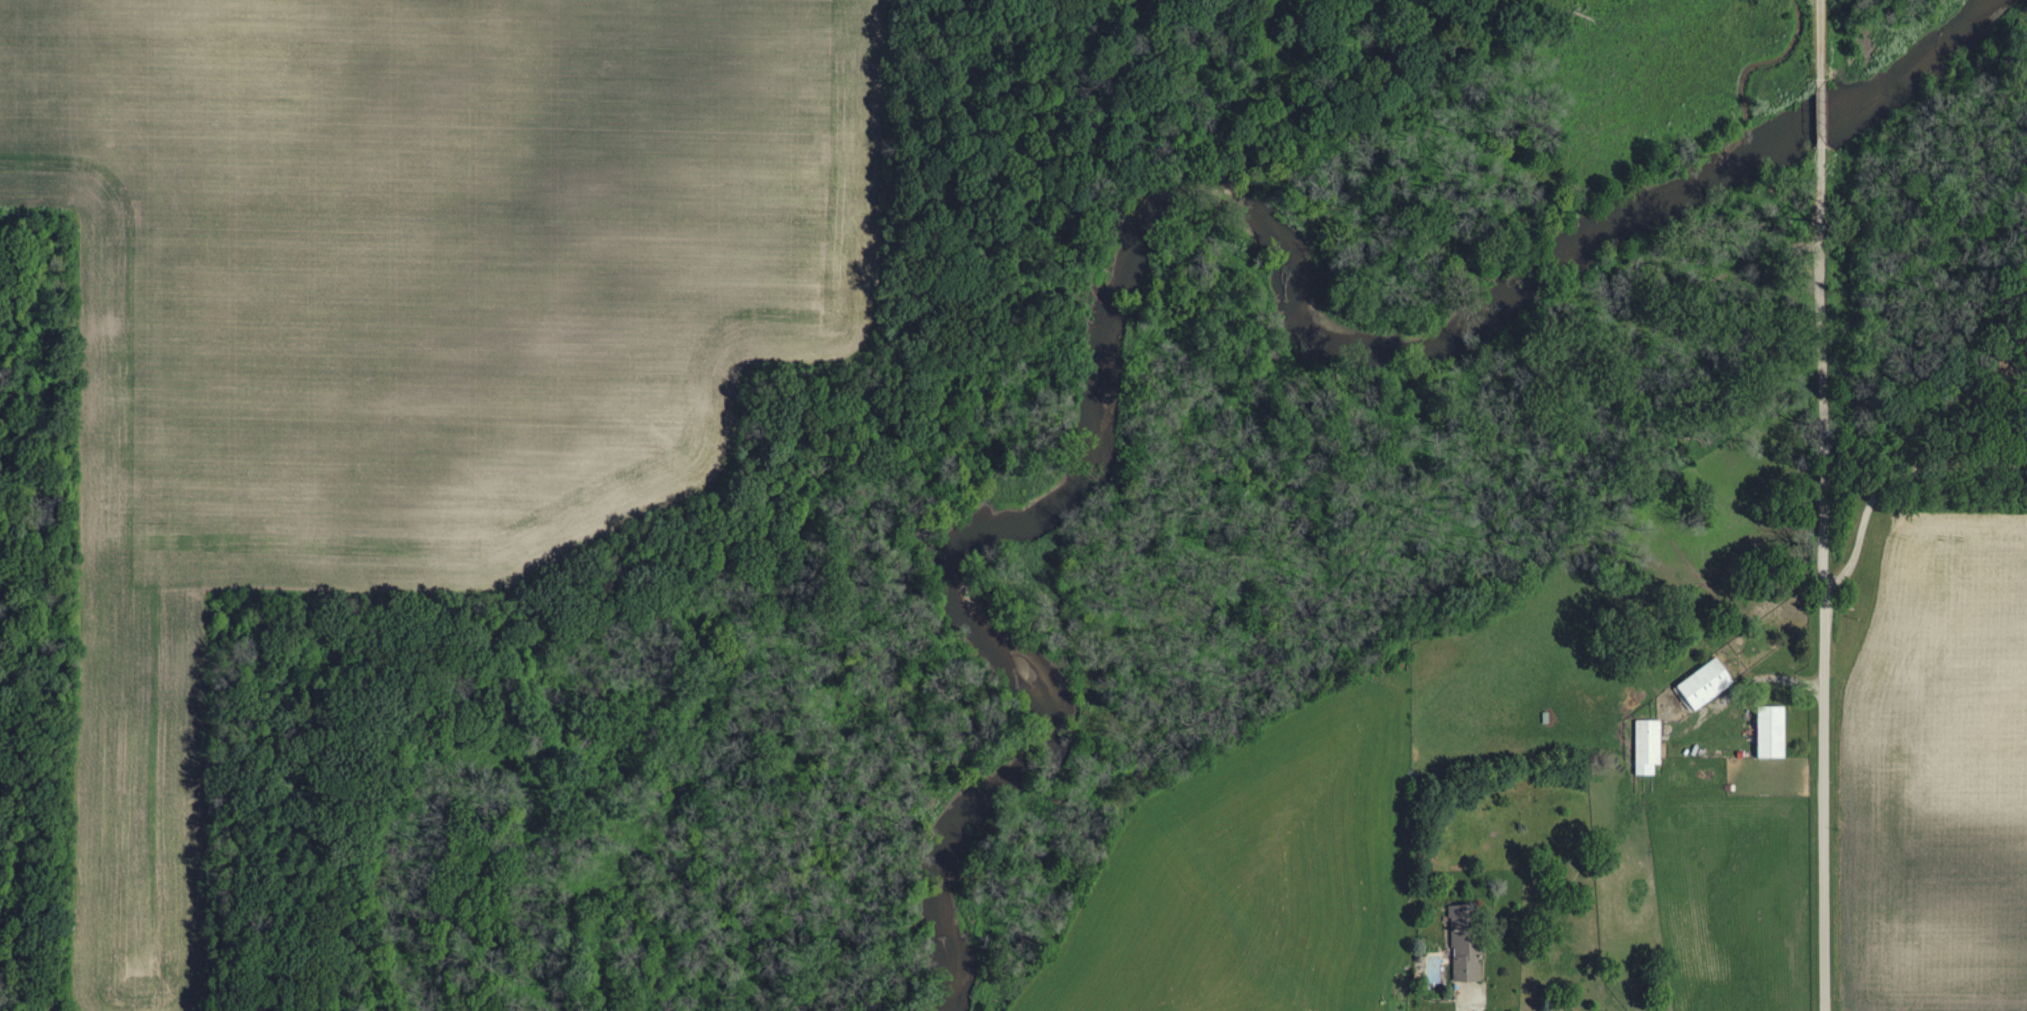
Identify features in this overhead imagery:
road: (1825, 505)
building: (1703, 685)
road: (1916, 720)
building: (1770, 733)
building: (1646, 747)

